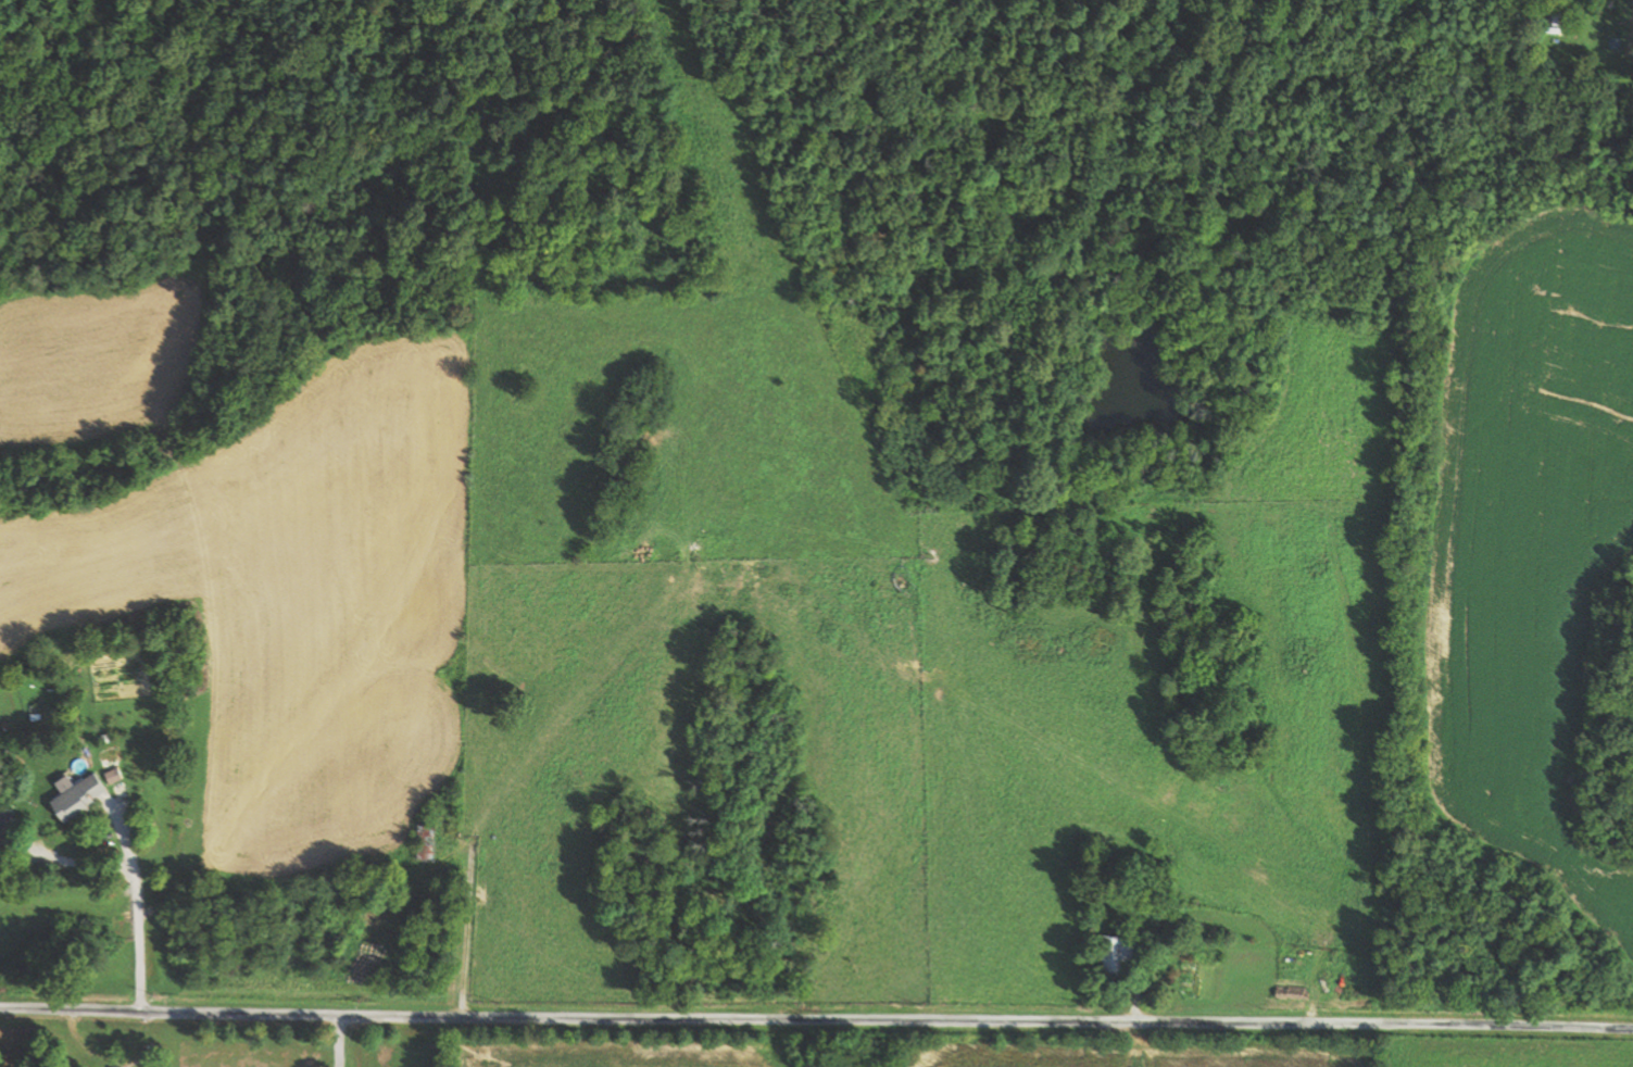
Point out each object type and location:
building: (83, 793)
building: (430, 841)
road: (133, 908)
building: (1123, 953)
road: (816, 1018)
road: (335, 1040)
road: (437, 1041)

